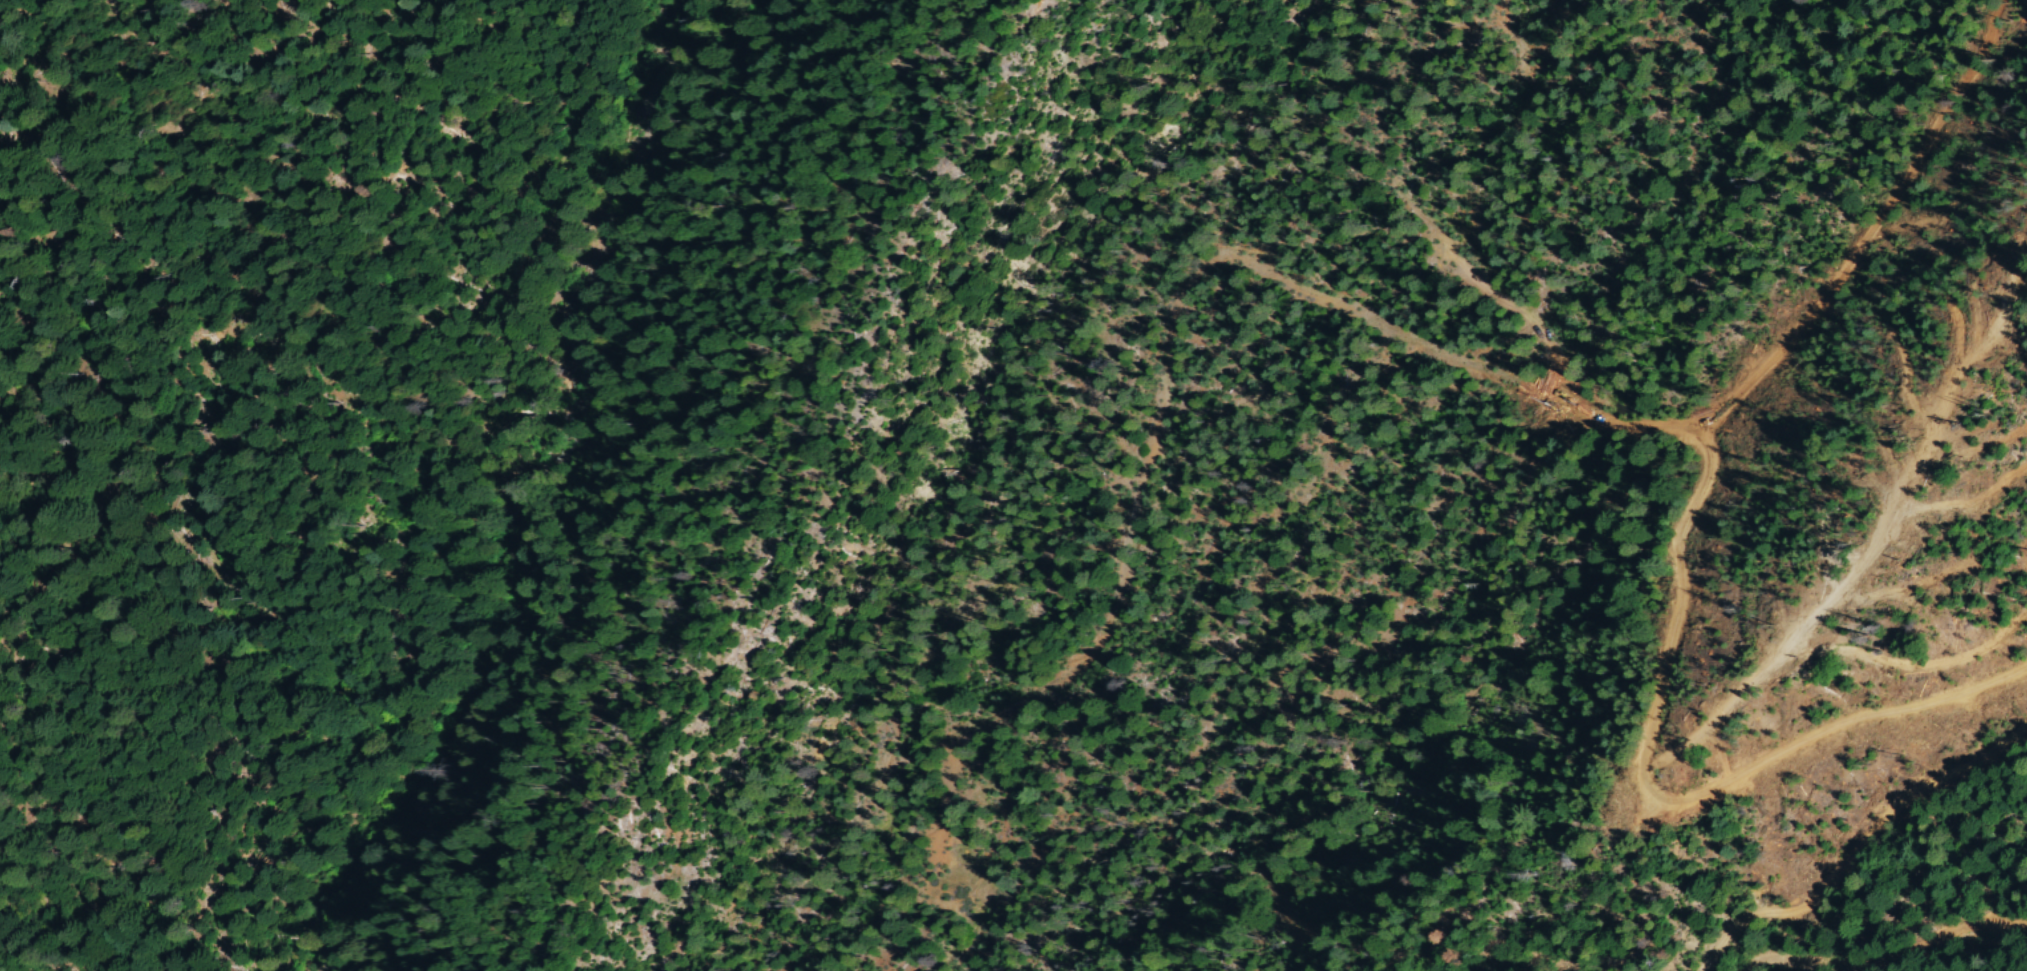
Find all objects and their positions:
road: (1818, 810)

